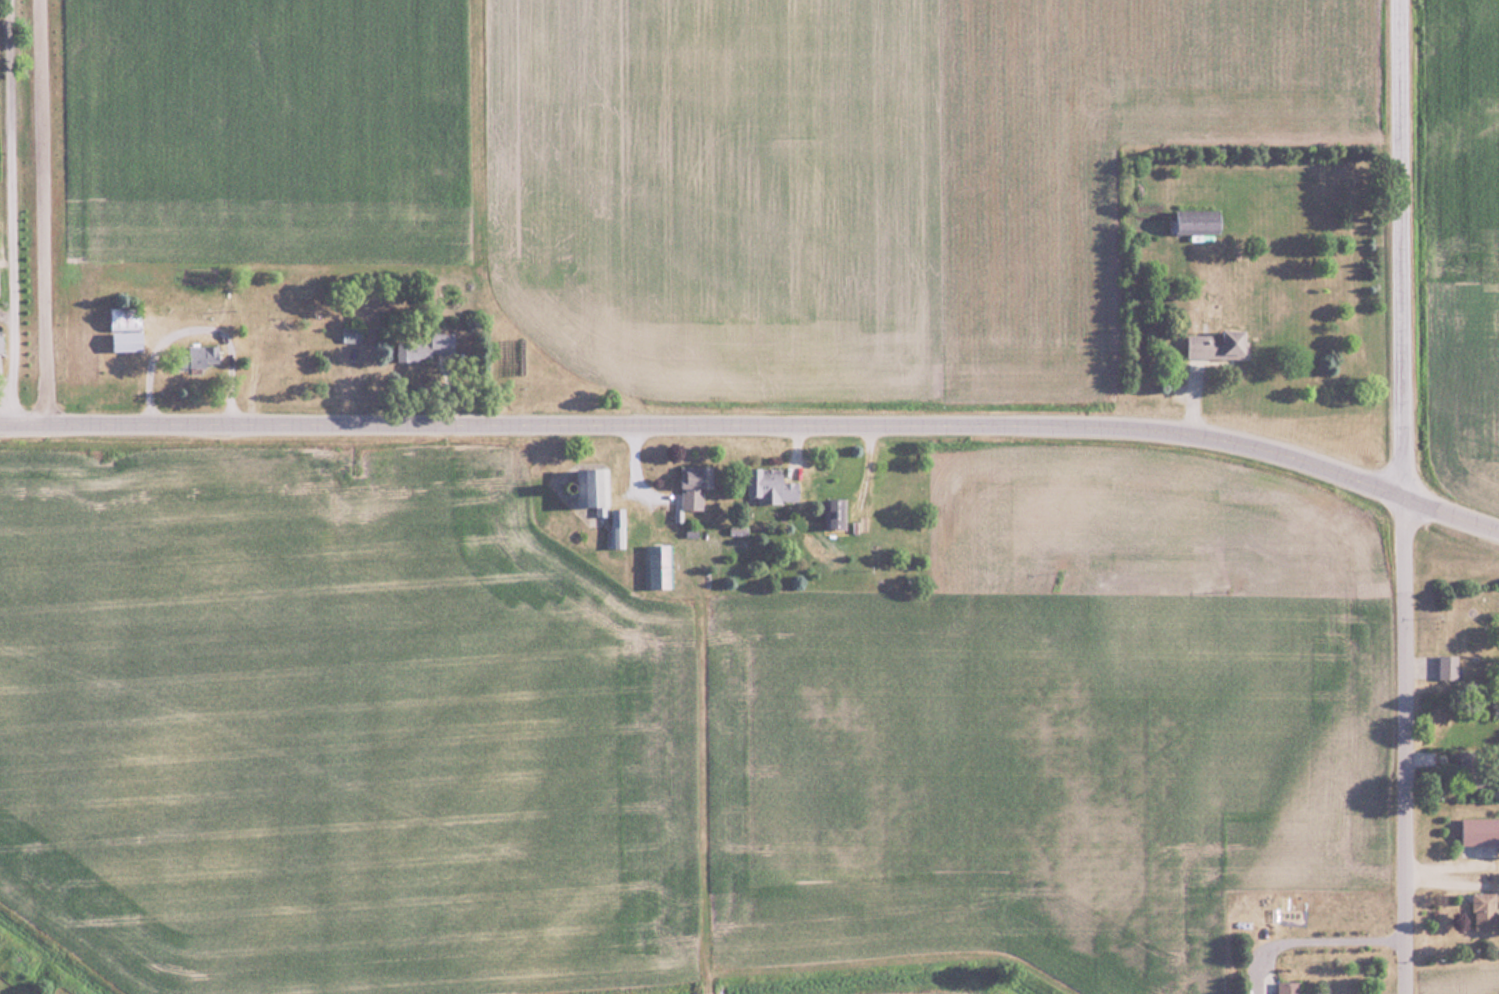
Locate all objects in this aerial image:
road: (9, 212)
road: (42, 212)
building: (1198, 222)
road: (1399, 247)
building: (128, 331)
building: (351, 333)
building: (0, 344)
building: (278, 344)
building: (1217, 344)
building: (423, 347)
building: (204, 357)
road: (1191, 398)
road: (705, 426)
building: (695, 484)
building: (772, 486)
building: (593, 487)
building: (834, 512)
road: (1450, 512)
road: (1418, 665)
building: (1449, 666)
road: (1402, 744)
building: (1472, 771)
building: (1480, 831)
building: (1484, 910)
road: (1306, 937)
building: (1289, 987)

